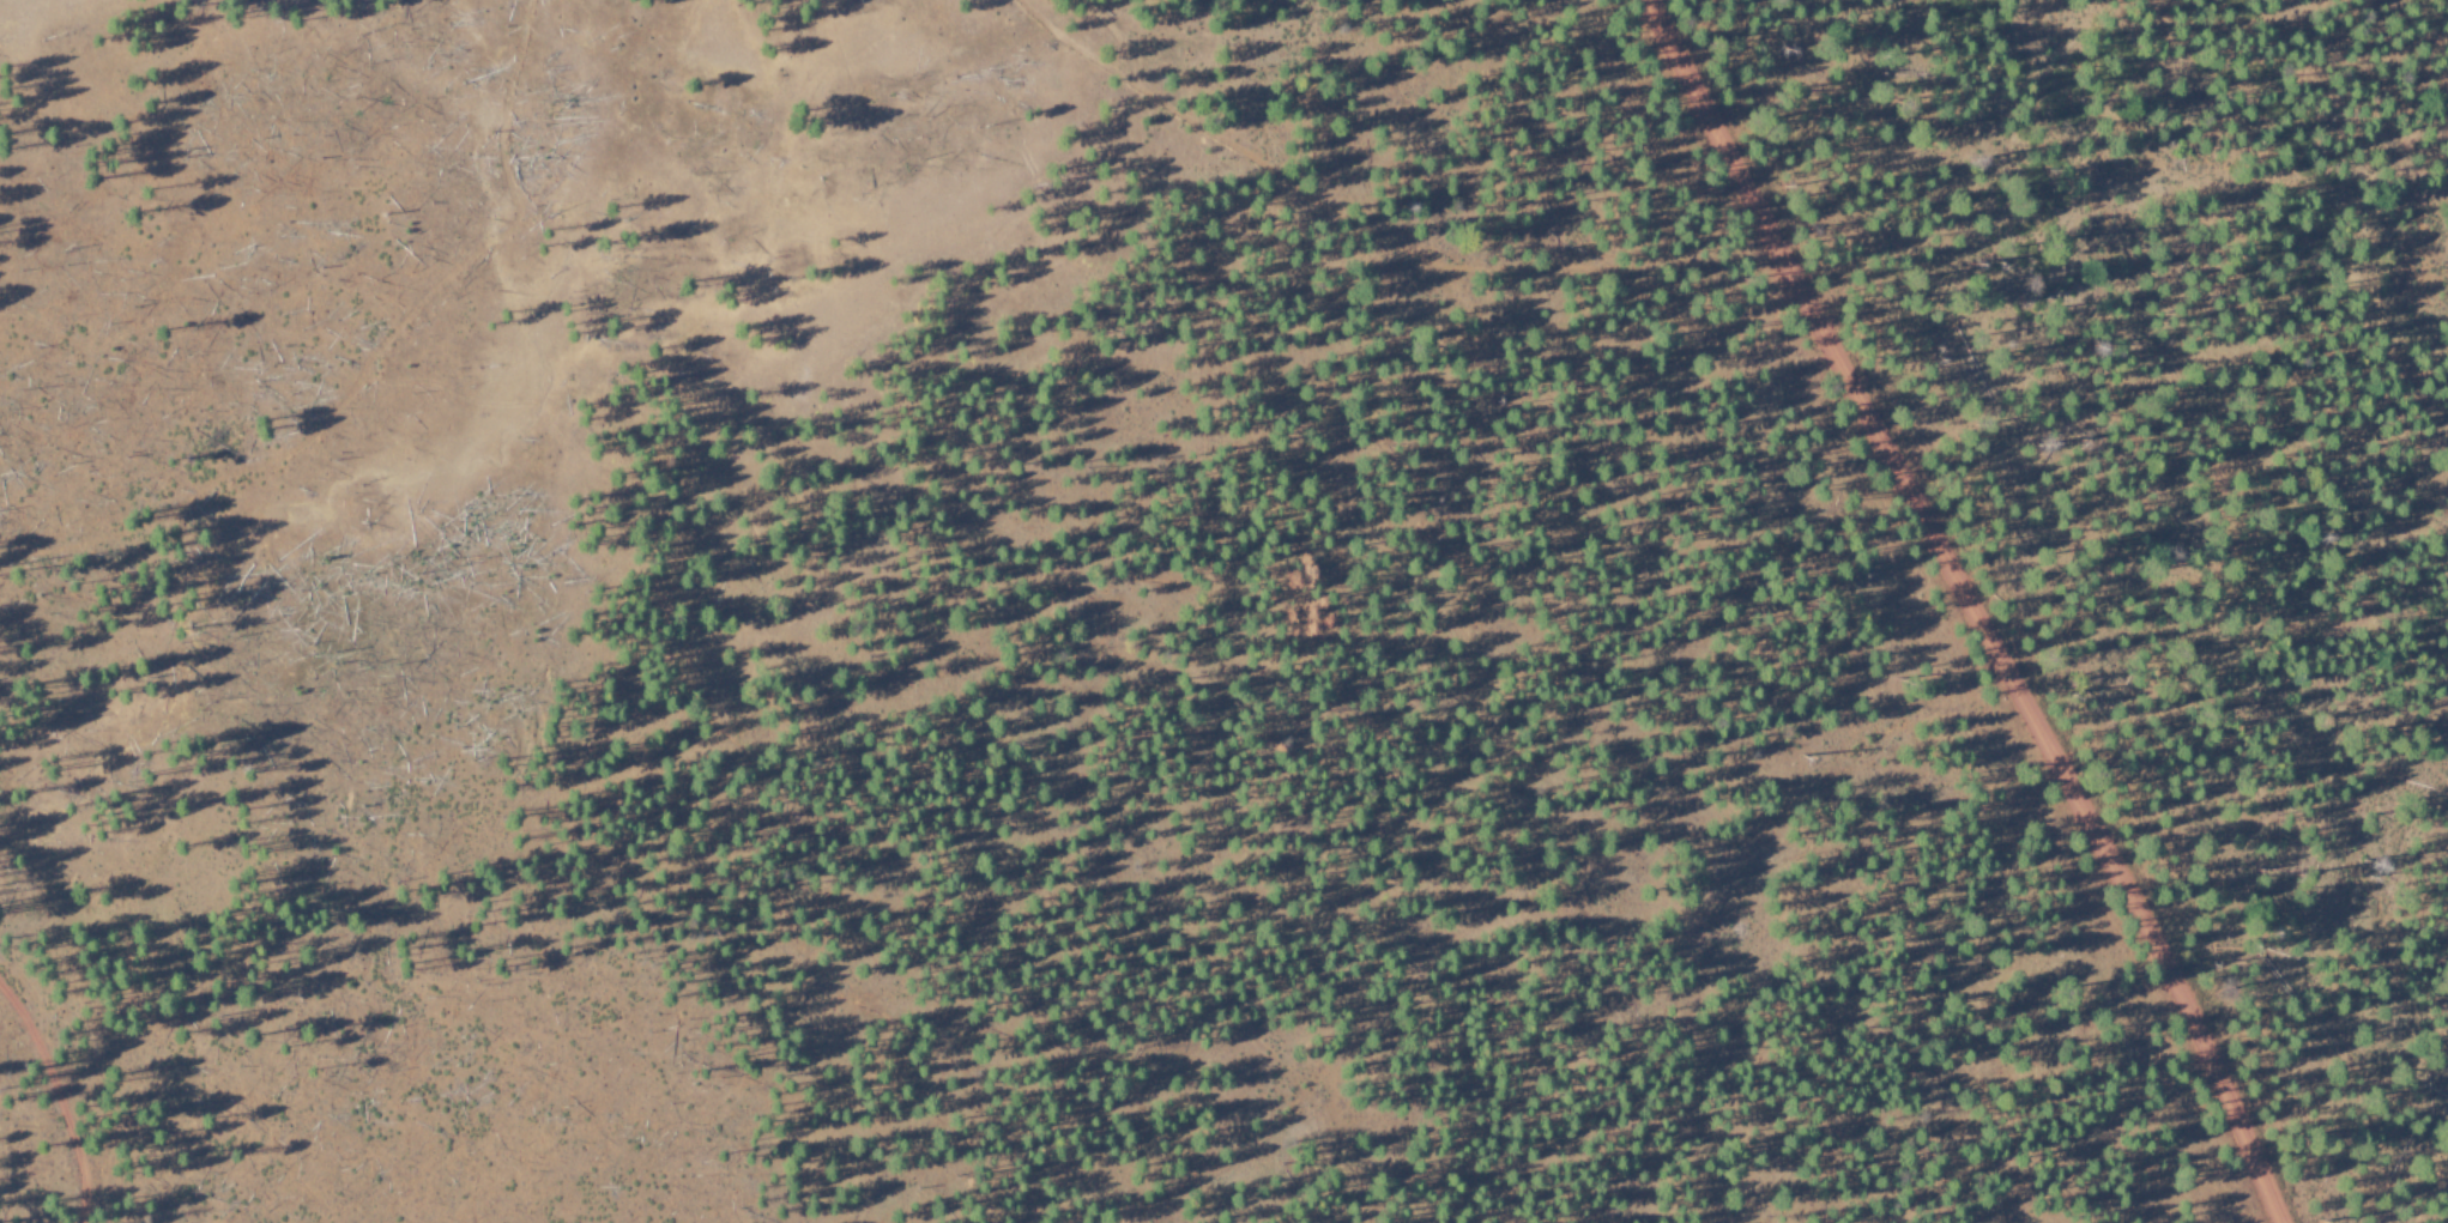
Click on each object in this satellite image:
road: (1973, 606)
road: (69, 1092)

